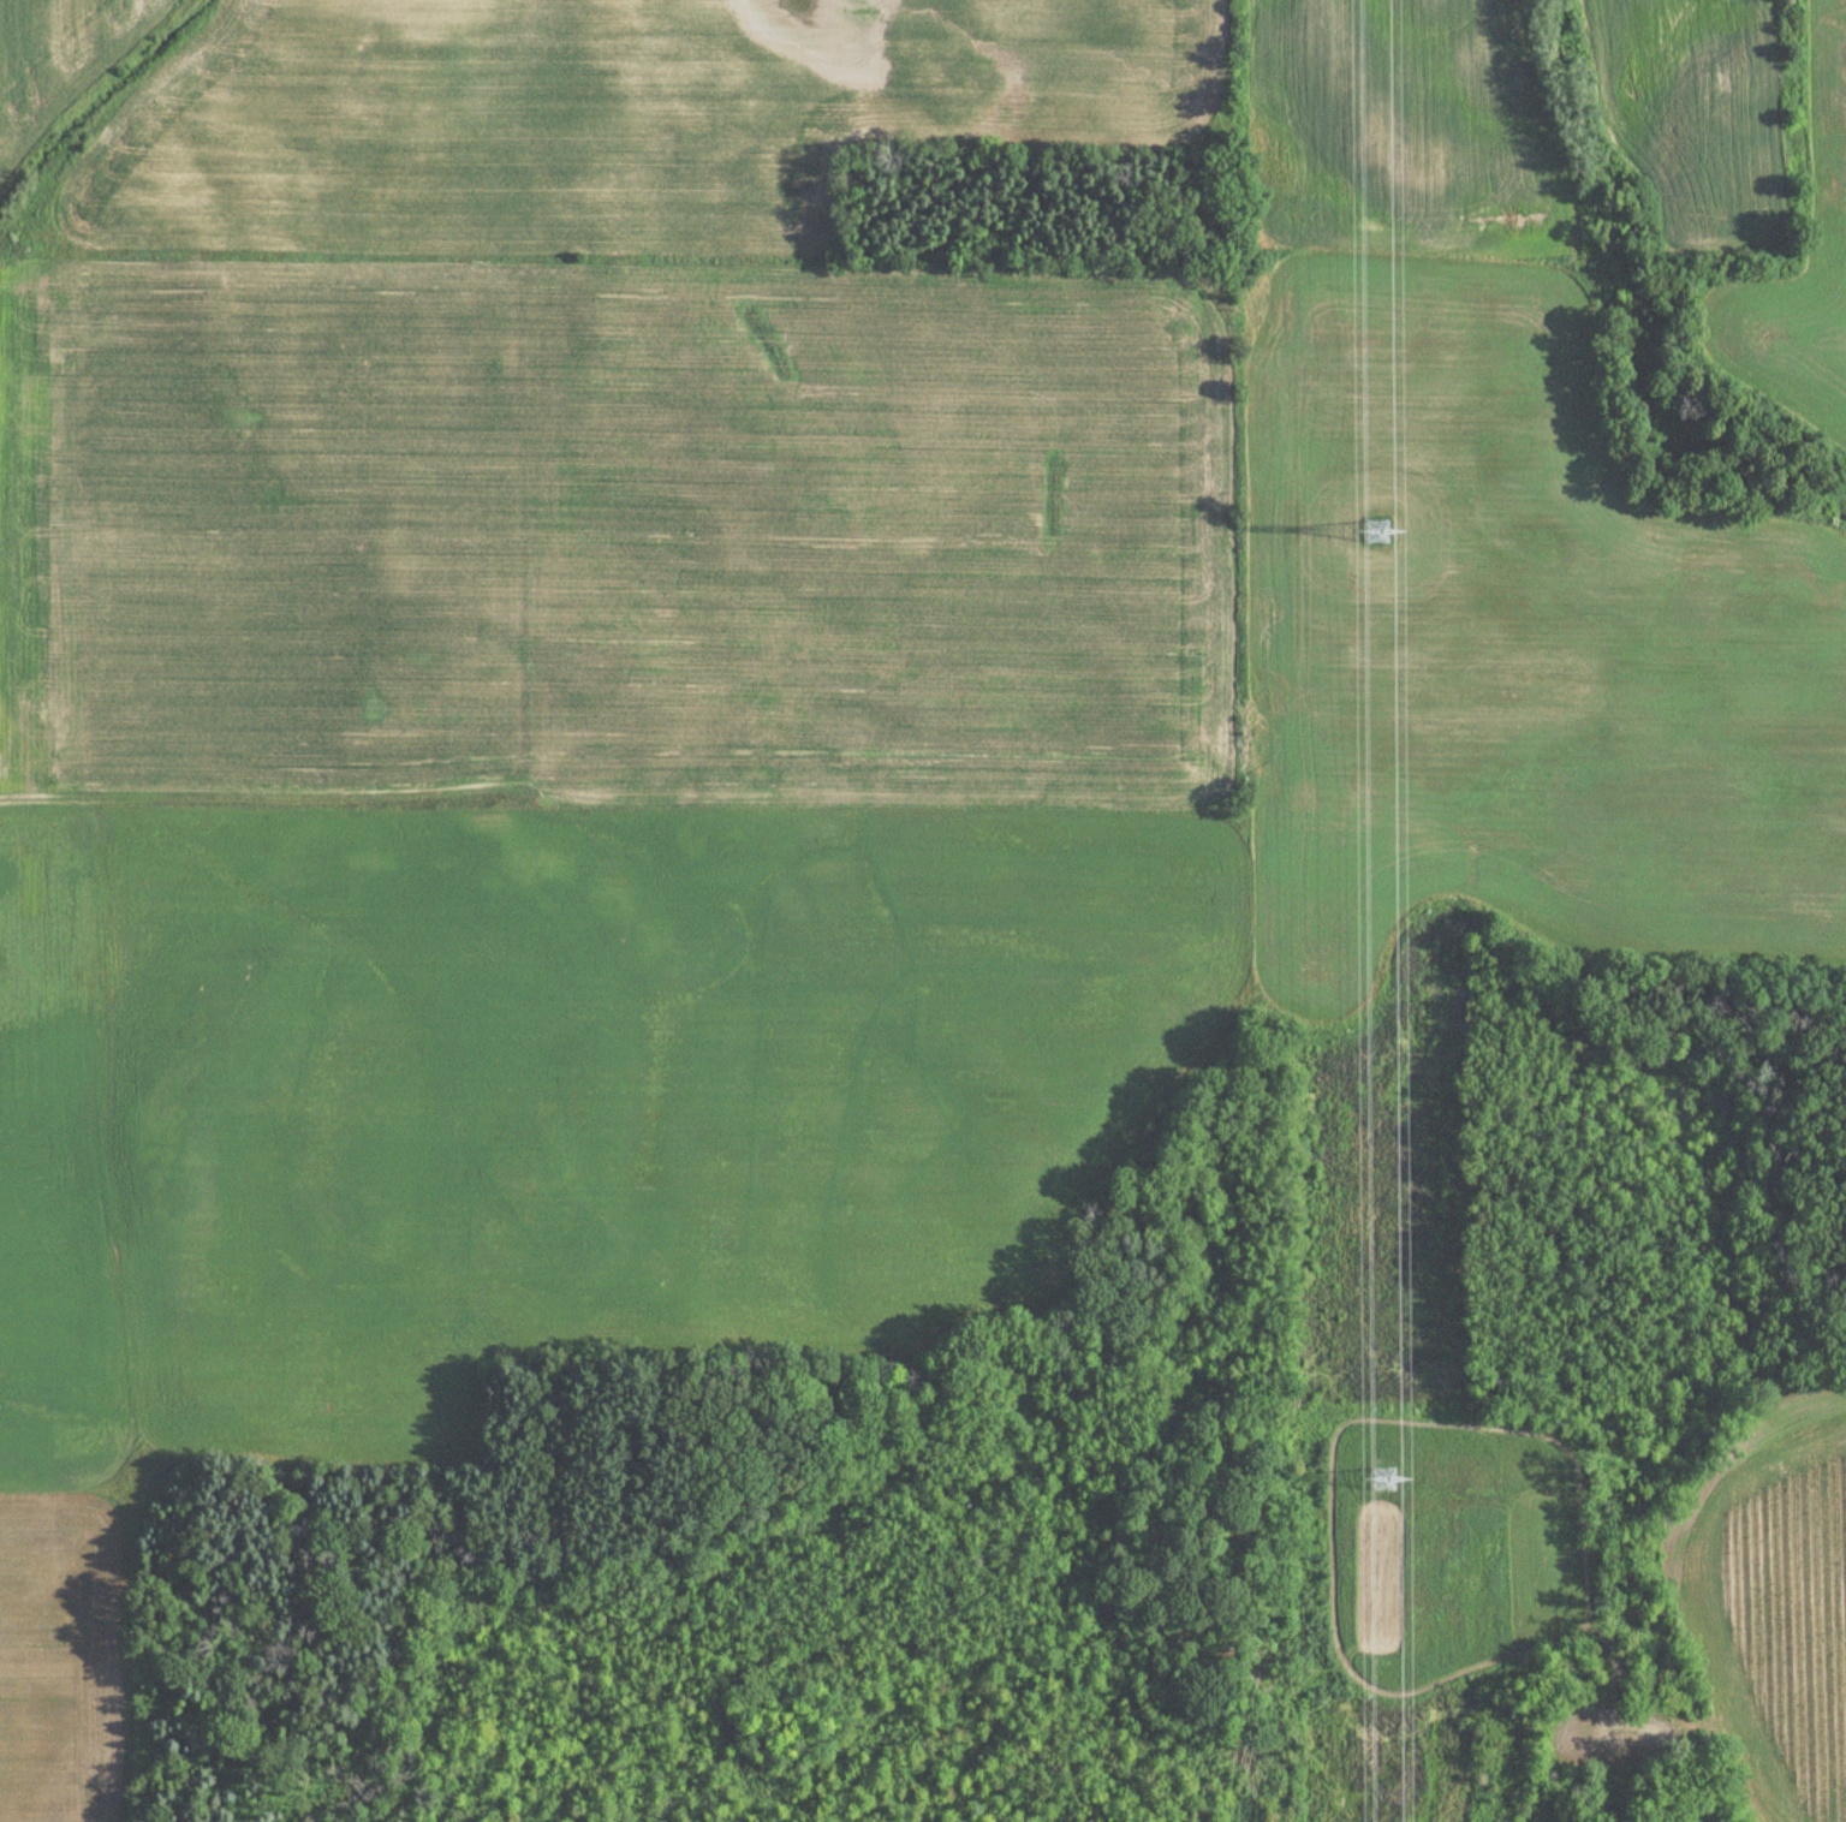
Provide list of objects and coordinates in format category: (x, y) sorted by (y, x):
power tower: (1375, 516)
power tower: (1395, 1483)

